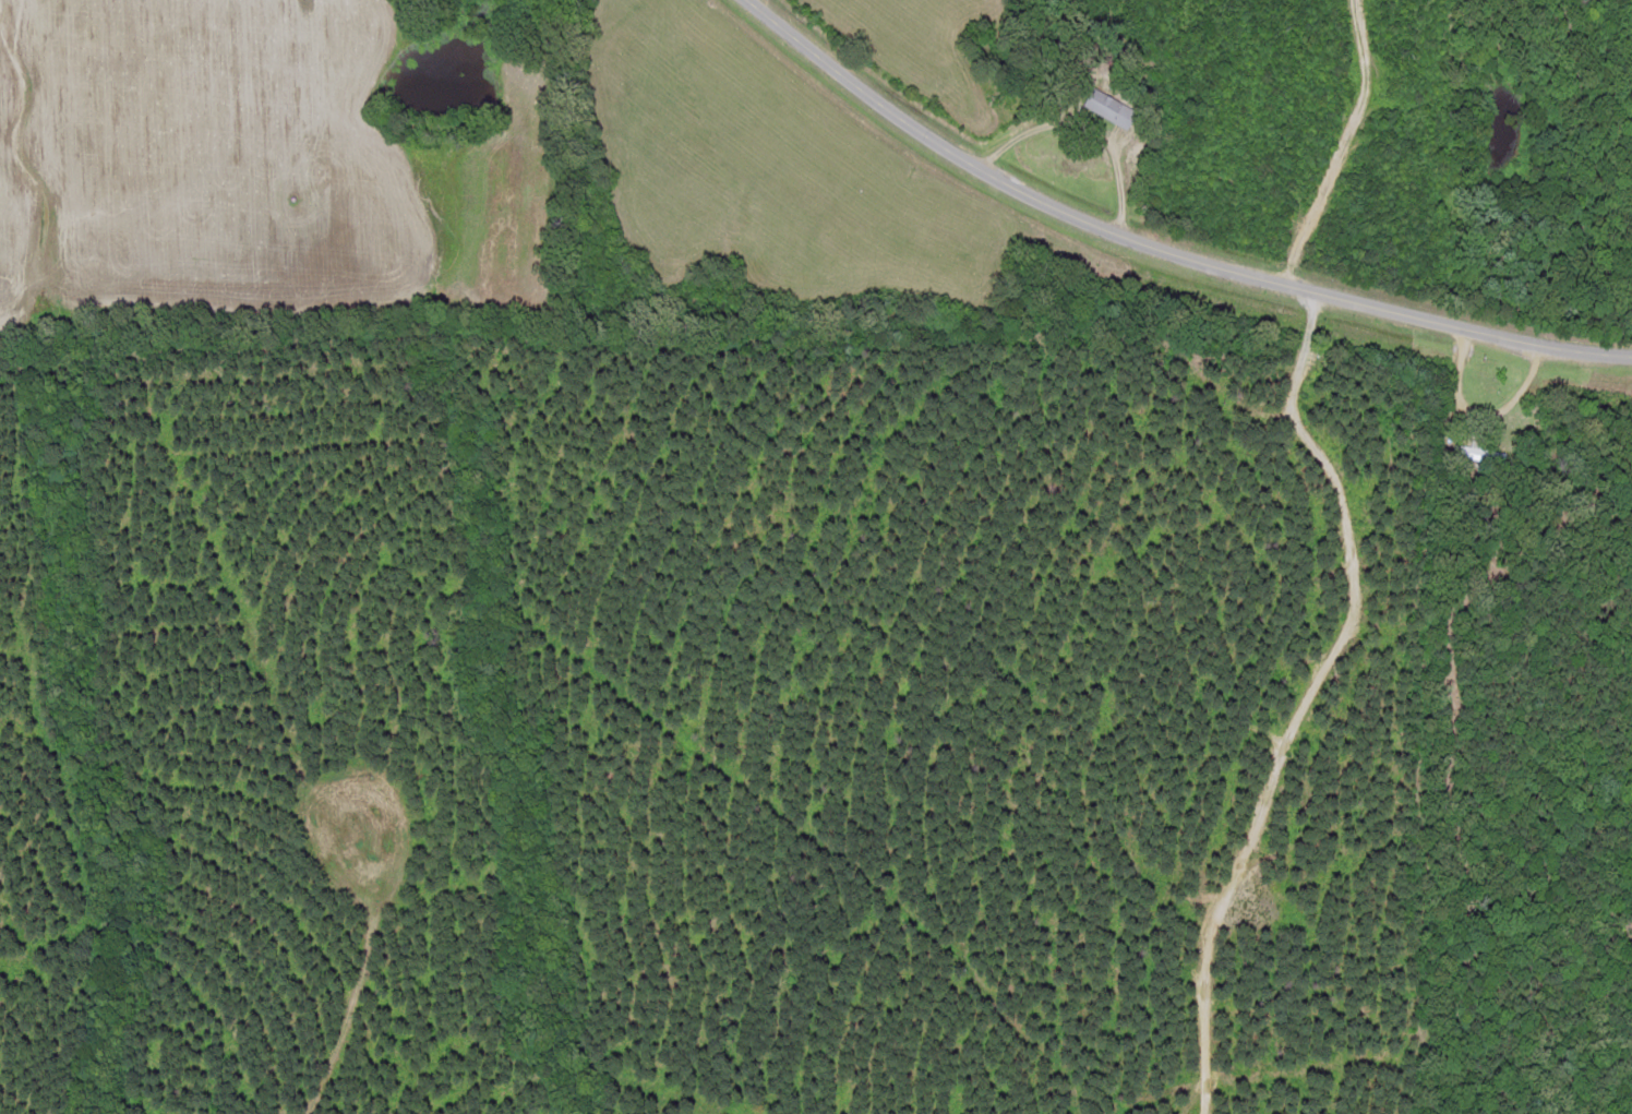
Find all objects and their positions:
building: (1104, 109)
road: (1186, 231)
building: (1477, 455)

